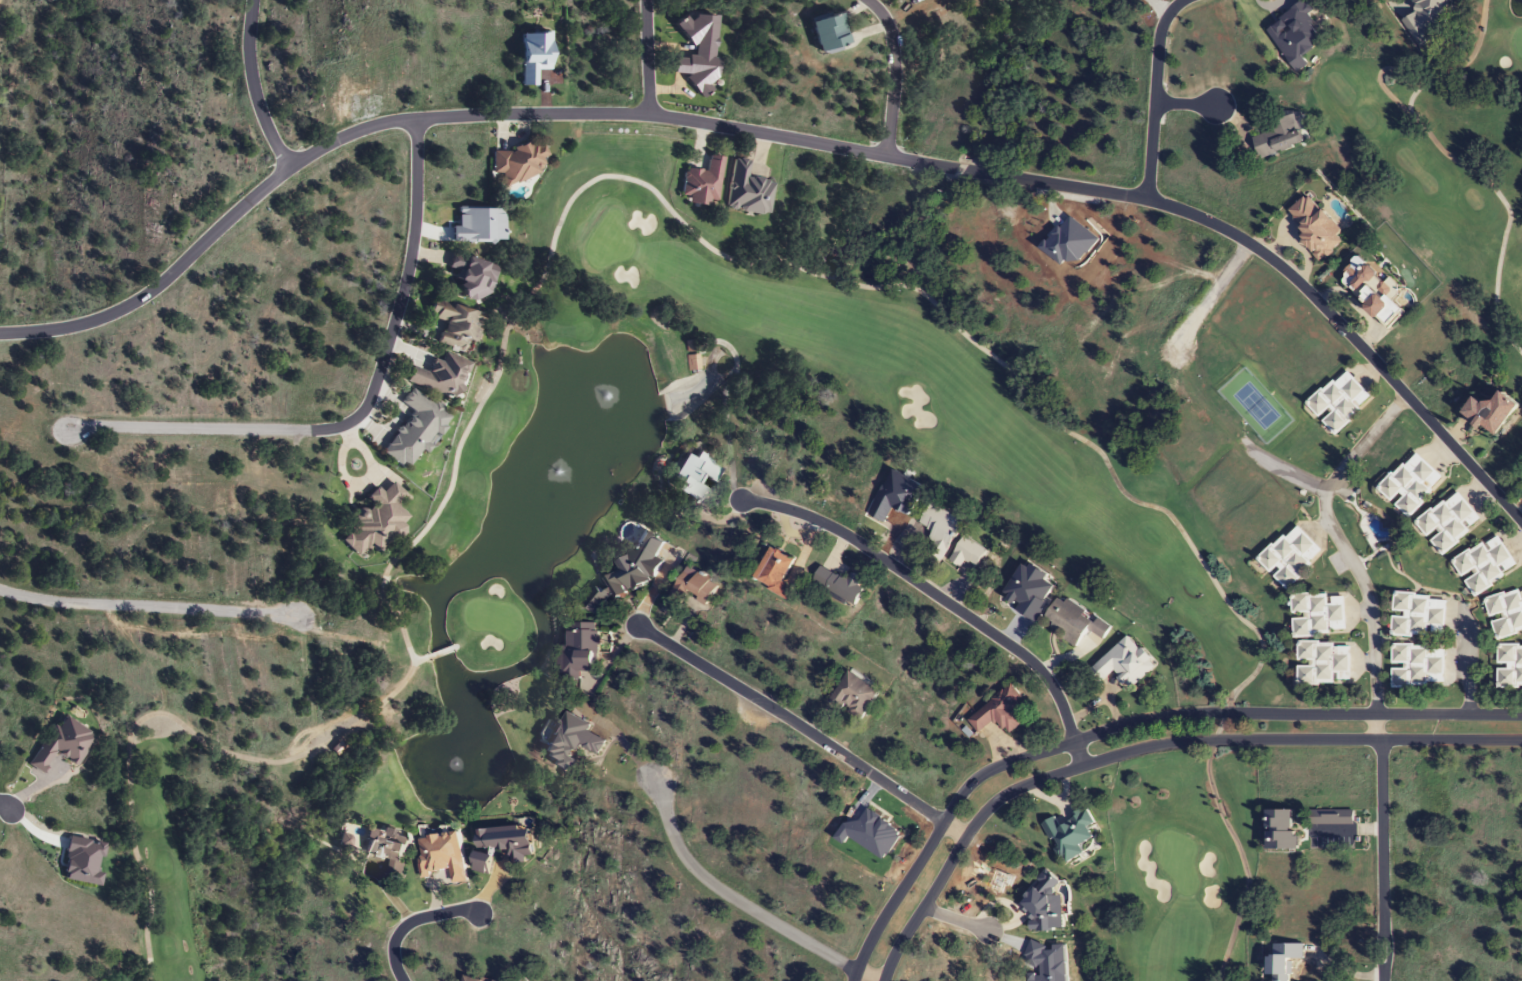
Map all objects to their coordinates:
building: (825, 31)
building: (532, 56)
road: (648, 56)
road: (894, 72)
road: (253, 87)
road: (1156, 96)
road: (1187, 104)
building: (1279, 135)
road: (793, 138)
park: (1443, 152)
building: (517, 161)
building: (701, 182)
building: (746, 190)
building: (472, 277)
building: (1374, 292)
road: (1209, 301)
building: (456, 326)
building: (692, 363)
building: (440, 375)
building: (1339, 401)
road: (363, 408)
building: (1490, 412)
building: (414, 429)
building: (692, 476)
building: (1409, 483)
building: (376, 520)
building: (1448, 522)
building: (938, 531)
road: (1339, 540)
building: (1289, 556)
park: (1156, 559)
building: (1484, 564)
building: (642, 565)
building: (774, 572)
building: (838, 584)
building: (692, 586)
road: (929, 590)
building: (598, 599)
road: (149, 604)
building: (1505, 613)
building: (1318, 614)
building: (1418, 615)
building: (1073, 622)
building: (579, 650)
building: (1123, 663)
building: (1323, 663)
building: (1417, 666)
building: (1508, 666)
building: (853, 695)
building: (997, 713)
road: (1125, 722)
road: (1378, 726)
road: (804, 727)
building: (61, 744)
road: (1147, 747)
road: (5, 806)
building: (1280, 831)
building: (1069, 835)
building: (501, 845)
building: (383, 854)
building: (442, 856)
road: (1380, 861)
road: (745, 906)
road: (413, 919)
road: (955, 919)
building: (1282, 960)
building: (470, 979)

